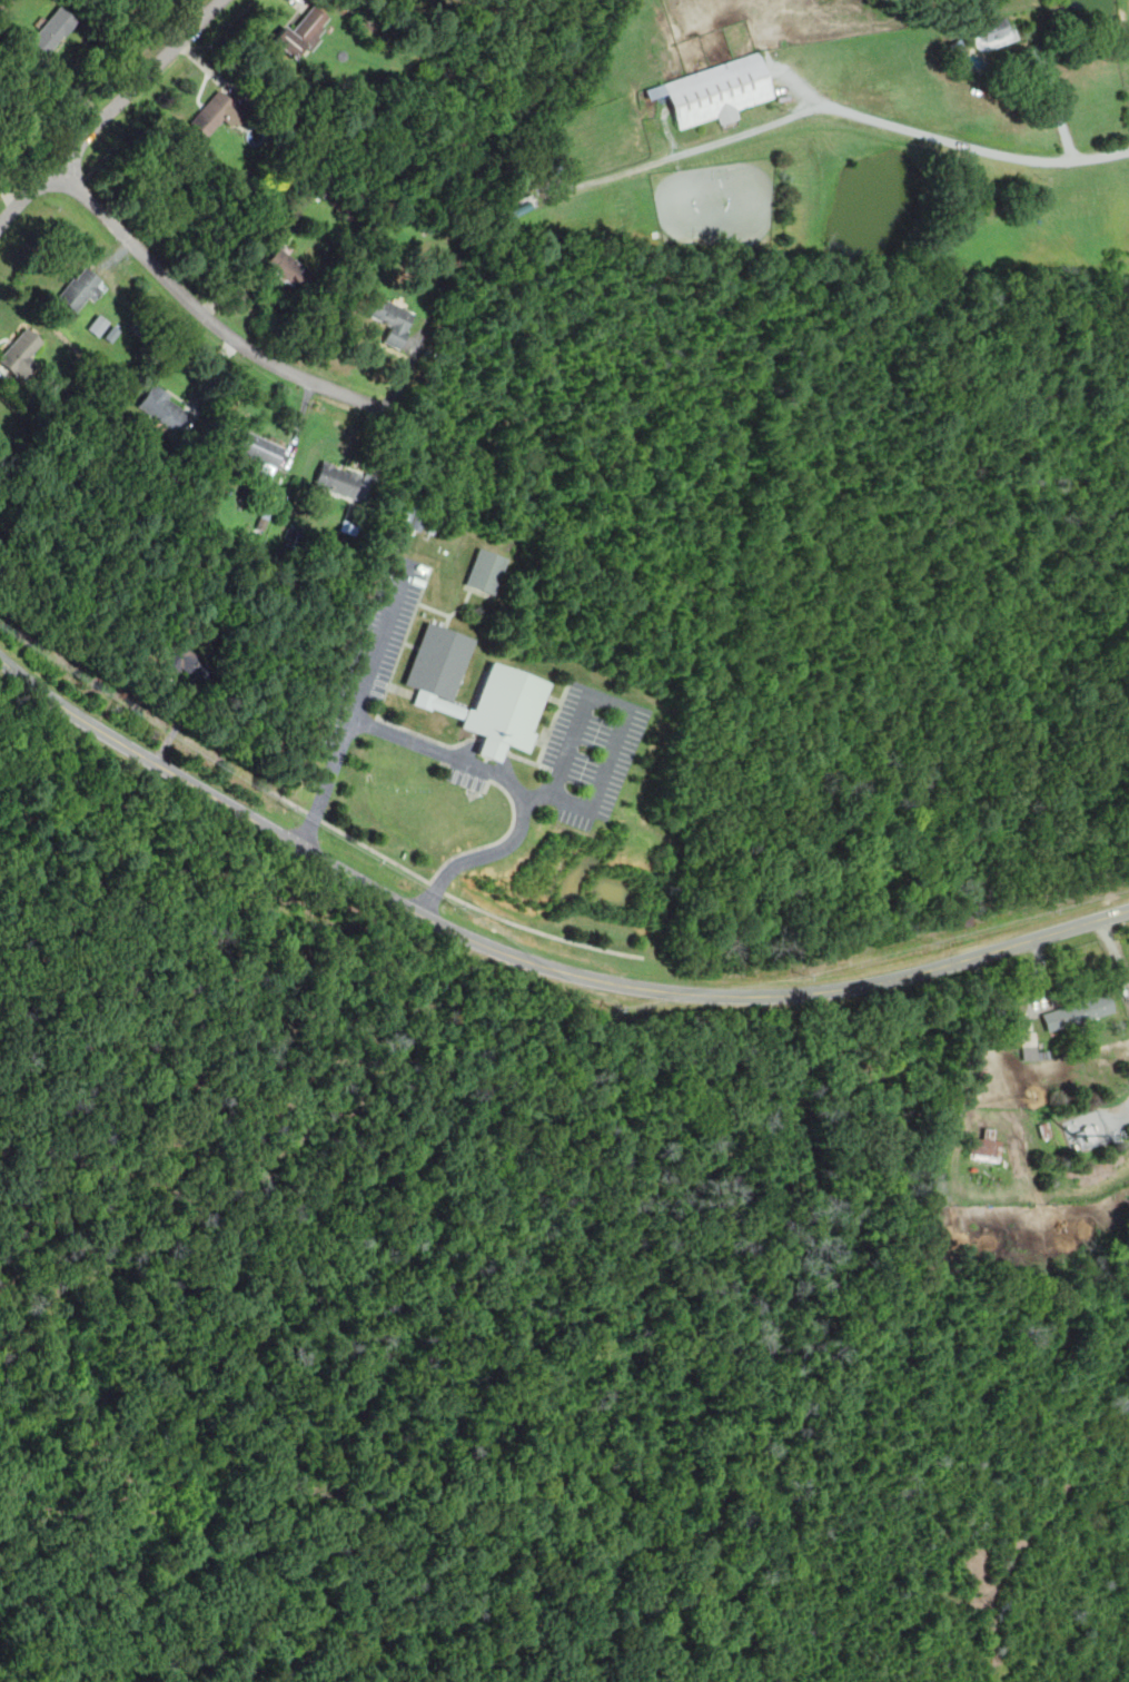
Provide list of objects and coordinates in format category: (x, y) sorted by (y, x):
building: (301, 31)
building: (994, 32)
building: (50, 33)
building: (715, 91)
road: (1054, 102)
road: (110, 111)
road: (849, 111)
building: (211, 113)
building: (499, 192)
building: (286, 269)
building: (79, 289)
road: (205, 315)
building: (389, 316)
building: (20, 354)
building: (164, 410)
building: (259, 449)
building: (336, 482)
building: (485, 570)
building: (512, 694)
road: (608, 700)
road: (354, 706)
road: (514, 785)
road: (1113, 954)
road: (531, 960)
building: (1077, 1012)
building: (1029, 1046)
road: (1120, 1118)
building: (984, 1149)

